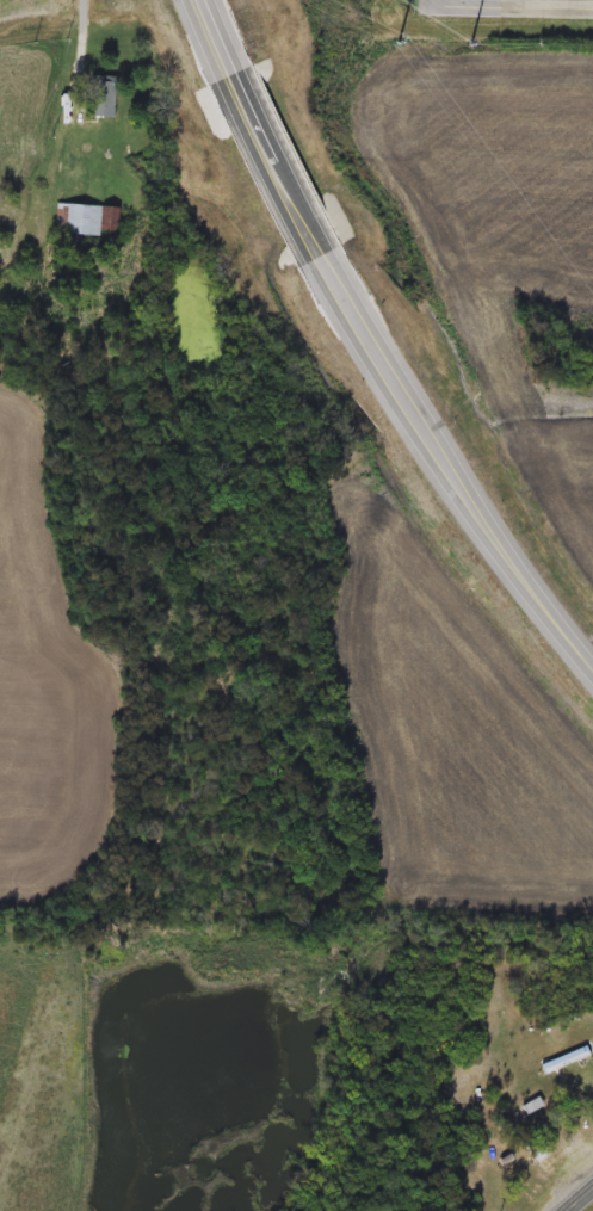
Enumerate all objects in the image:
road: (507, 10)
road: (86, 44)
road: (228, 48)
building: (101, 97)
road: (307, 202)
building: (89, 221)
road: (474, 470)
building: (564, 1061)
road: (582, 1201)

